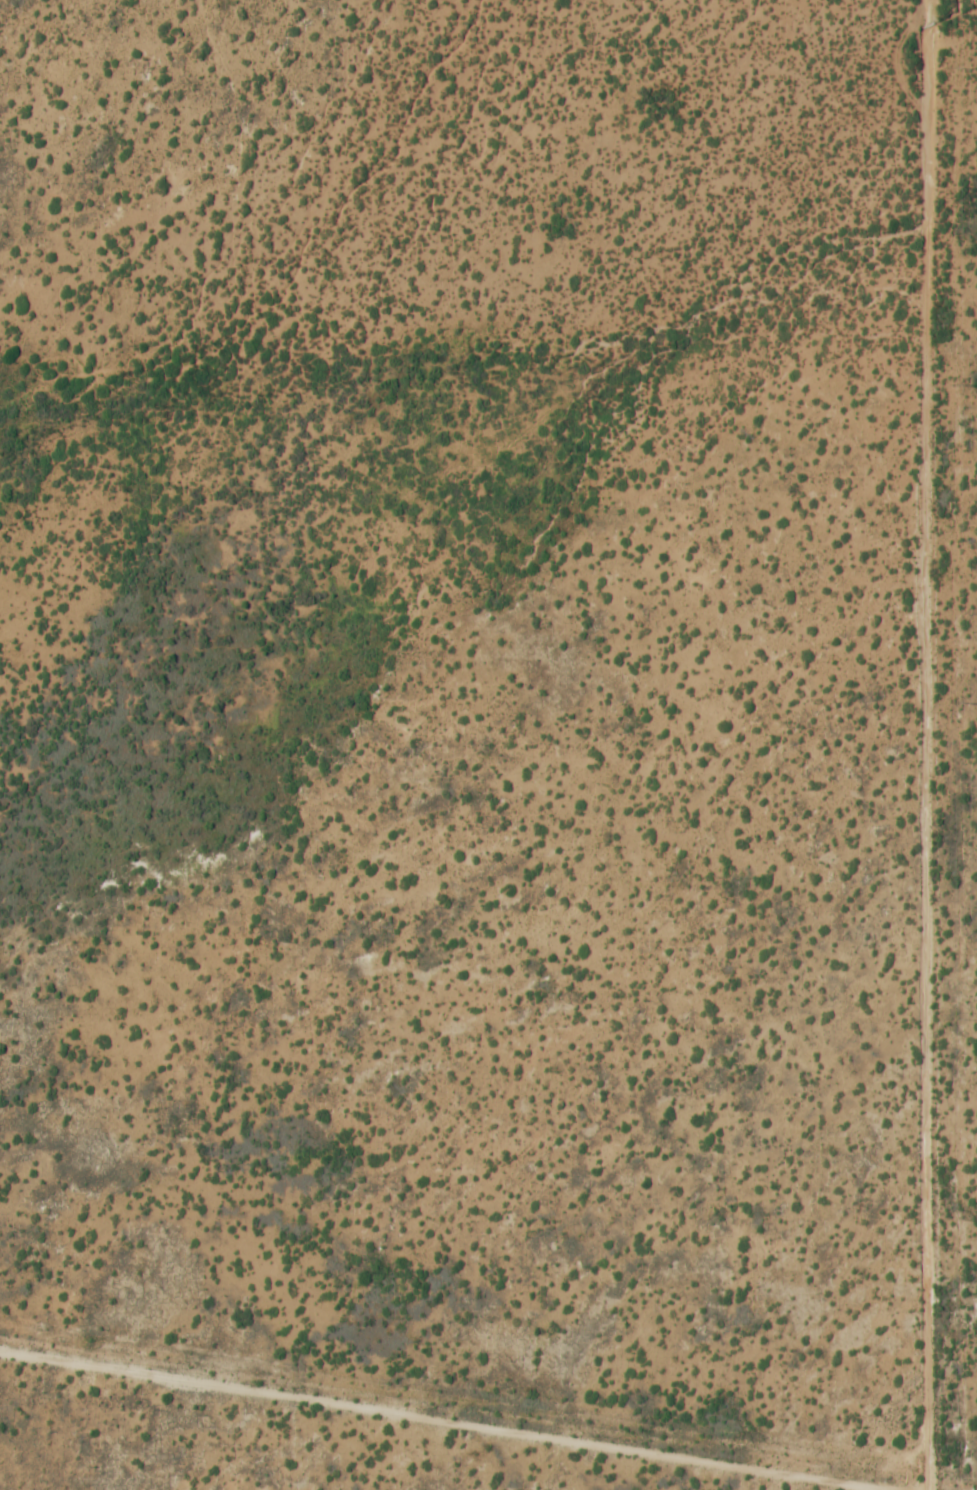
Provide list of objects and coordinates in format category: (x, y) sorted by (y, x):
power tower: (952, 68)
power tower: (954, 383)
power tower: (952, 703)
road: (922, 745)
power tower: (951, 1020)
power tower: (954, 1335)

